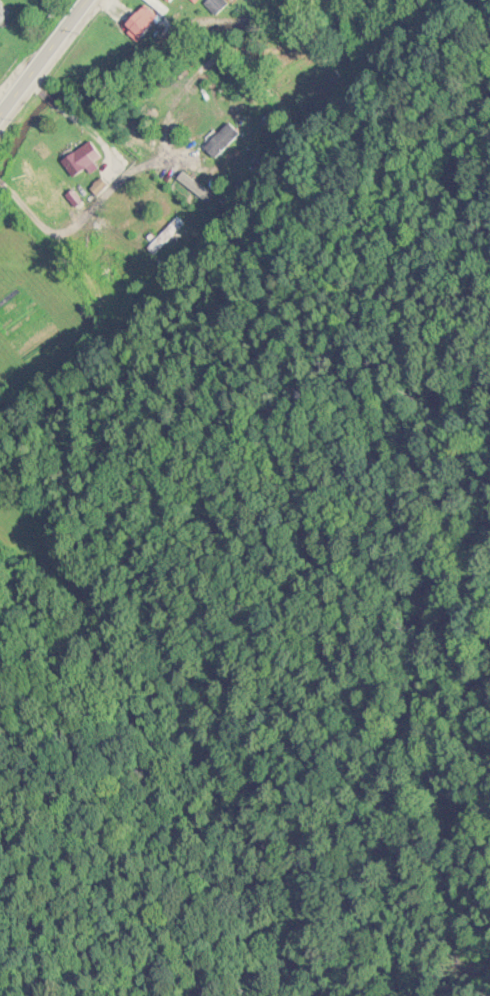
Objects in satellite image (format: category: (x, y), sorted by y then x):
building: (232, 0)
building: (171, 2)
building: (4, 17)
building: (140, 28)
road: (45, 60)
building: (222, 142)
building: (78, 164)

